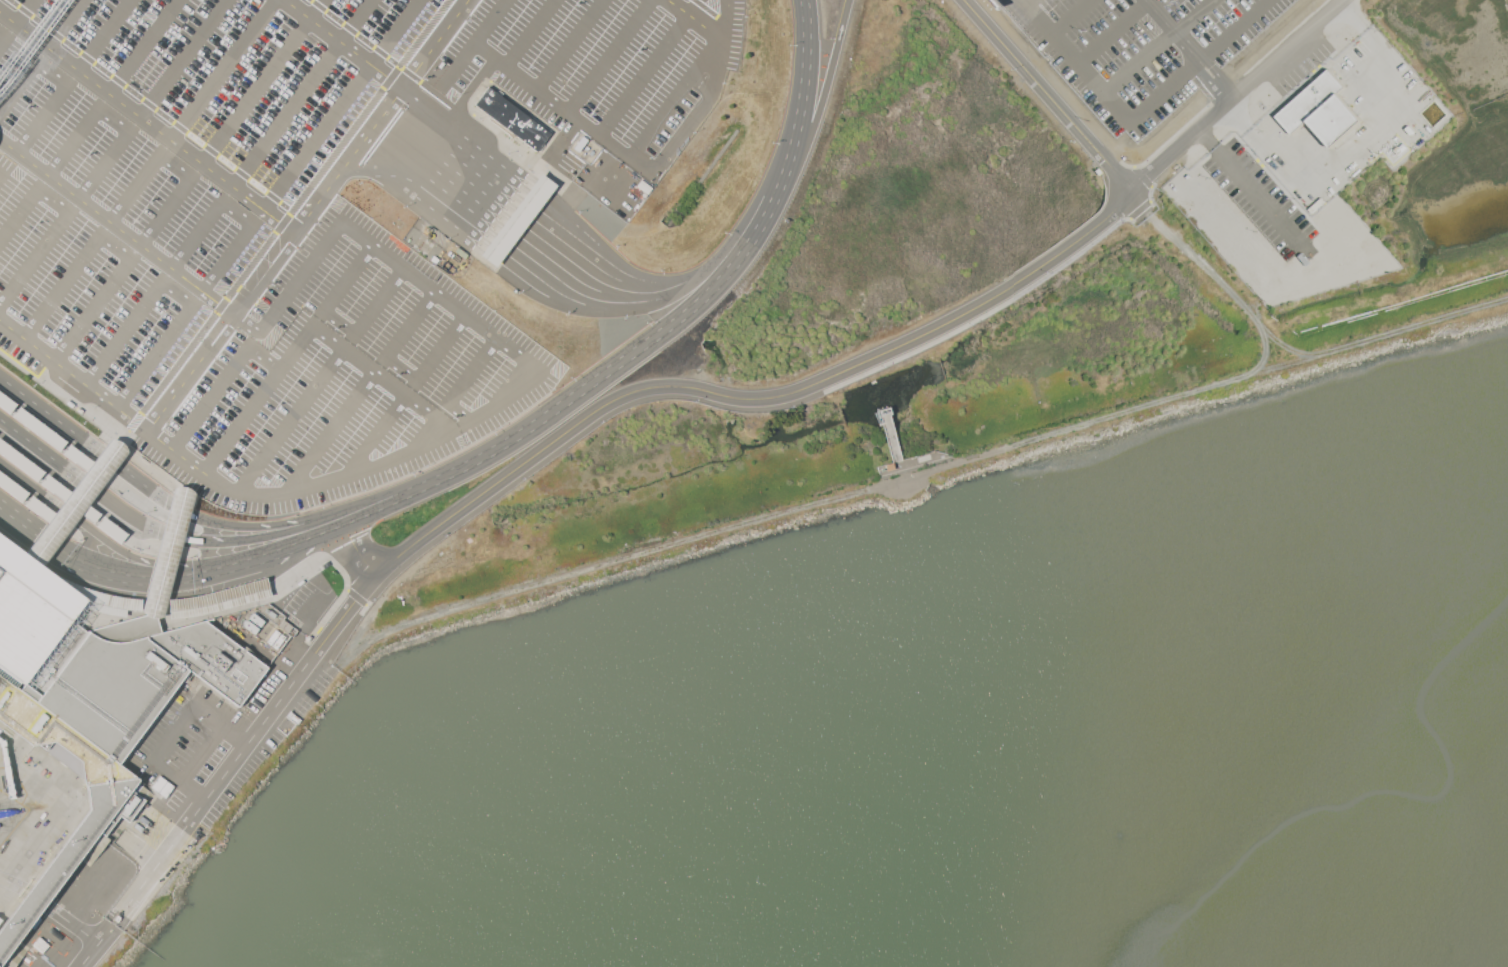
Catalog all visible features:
road: (1028, 1)
road: (25, 11)
road: (710, 11)
road: (1071, 16)
road: (1354, 18)
road: (695, 19)
road: (65, 23)
road: (1175, 28)
road: (1233, 29)
road: (1114, 32)
road: (356, 33)
road: (529, 33)
road: (106, 35)
road: (4, 38)
road: (722, 38)
railway: (27, 40)
road: (344, 43)
road: (569, 45)
railway: (34, 46)
road: (144, 47)
road: (1158, 47)
parking lot: (1147, 50)
road: (466, 52)
road: (609, 56)
road: (183, 58)
road: (649, 67)
road: (223, 70)
parking lot: (382, 72)
road: (1220, 77)
road: (805, 78)
road: (60, 80)
road: (262, 81)
road: (827, 81)
road: (304, 93)
road: (1048, 94)
road: (1240, 94)
road: (708, 95)
road: (1110, 98)
road: (676, 99)
building: (1311, 100)
road: (341, 104)
road: (151, 105)
road: (562, 109)
road: (381, 116)
building: (512, 118)
road: (1237, 118)
road: (111, 119)
building: (1335, 120)
road: (147, 122)
road: (397, 136)
road: (1359, 138)
road: (23, 157)
road: (788, 161)
road: (173, 166)
road: (353, 172)
road: (0, 177)
road: (1246, 183)
road: (521, 188)
toll booth: (540, 190)
toll booth: (534, 198)
parking lot: (1259, 200)
road: (558, 203)
toll booth: (528, 207)
road: (749, 211)
road: (236, 213)
toll booth: (521, 216)
road: (66, 218)
building: (516, 219)
road: (526, 219)
road: (544, 219)
road: (285, 221)
toll booth: (515, 224)
road: (508, 233)
toll booth: (508, 233)
toll booth: (502, 241)
road: (538, 242)
road: (488, 244)
road: (116, 246)
road: (511, 247)
toll booth: (496, 250)
road: (149, 251)
toll booth: (489, 259)
building: (434, 260)
parking lot: (358, 263)
road: (1202, 264)
road: (298, 279)
road: (177, 292)
road: (534, 292)
road: (255, 300)
road: (476, 321)
airport: (617, 321)
road: (338, 322)
road: (222, 332)
road: (630, 353)
road: (355, 355)
road: (264, 359)
parking lot: (201, 368)
road: (400, 369)
road: (461, 381)
building: (6, 403)
road: (117, 408)
road: (94, 418)
road: (292, 419)
road: (582, 420)
building: (39, 429)
road: (330, 431)
road: (377, 433)
road: (49, 437)
road: (93, 447)
building: (20, 460)
road: (347, 474)
road: (88, 484)
building: (12, 487)
road: (61, 493)
road: (371, 498)
building: (73, 499)
road: (30, 502)
road: (75, 503)
road: (144, 504)
road: (384, 507)
road: (256, 526)
road: (28, 528)
road: (333, 528)
building: (112, 530)
traffic signals: (36, 534)
road: (254, 538)
road: (307, 538)
road: (107, 542)
road: (335, 544)
road: (155, 547)
road: (357, 551)
building: (168, 553)
road: (167, 554)
traffic signals: (154, 563)
road: (339, 568)
road: (174, 575)
traffic signals: (144, 576)
road: (355, 596)
building: (219, 600)
building: (105, 601)
road: (127, 605)
airport terminal: (93, 697)
building: (93, 697)
road: (171, 730)
road: (201, 752)
airport apron: (33, 815)
road: (14, 884)
road: (37, 899)
road: (126, 902)
road: (71, 923)
road: (82, 952)
road: (91, 955)

